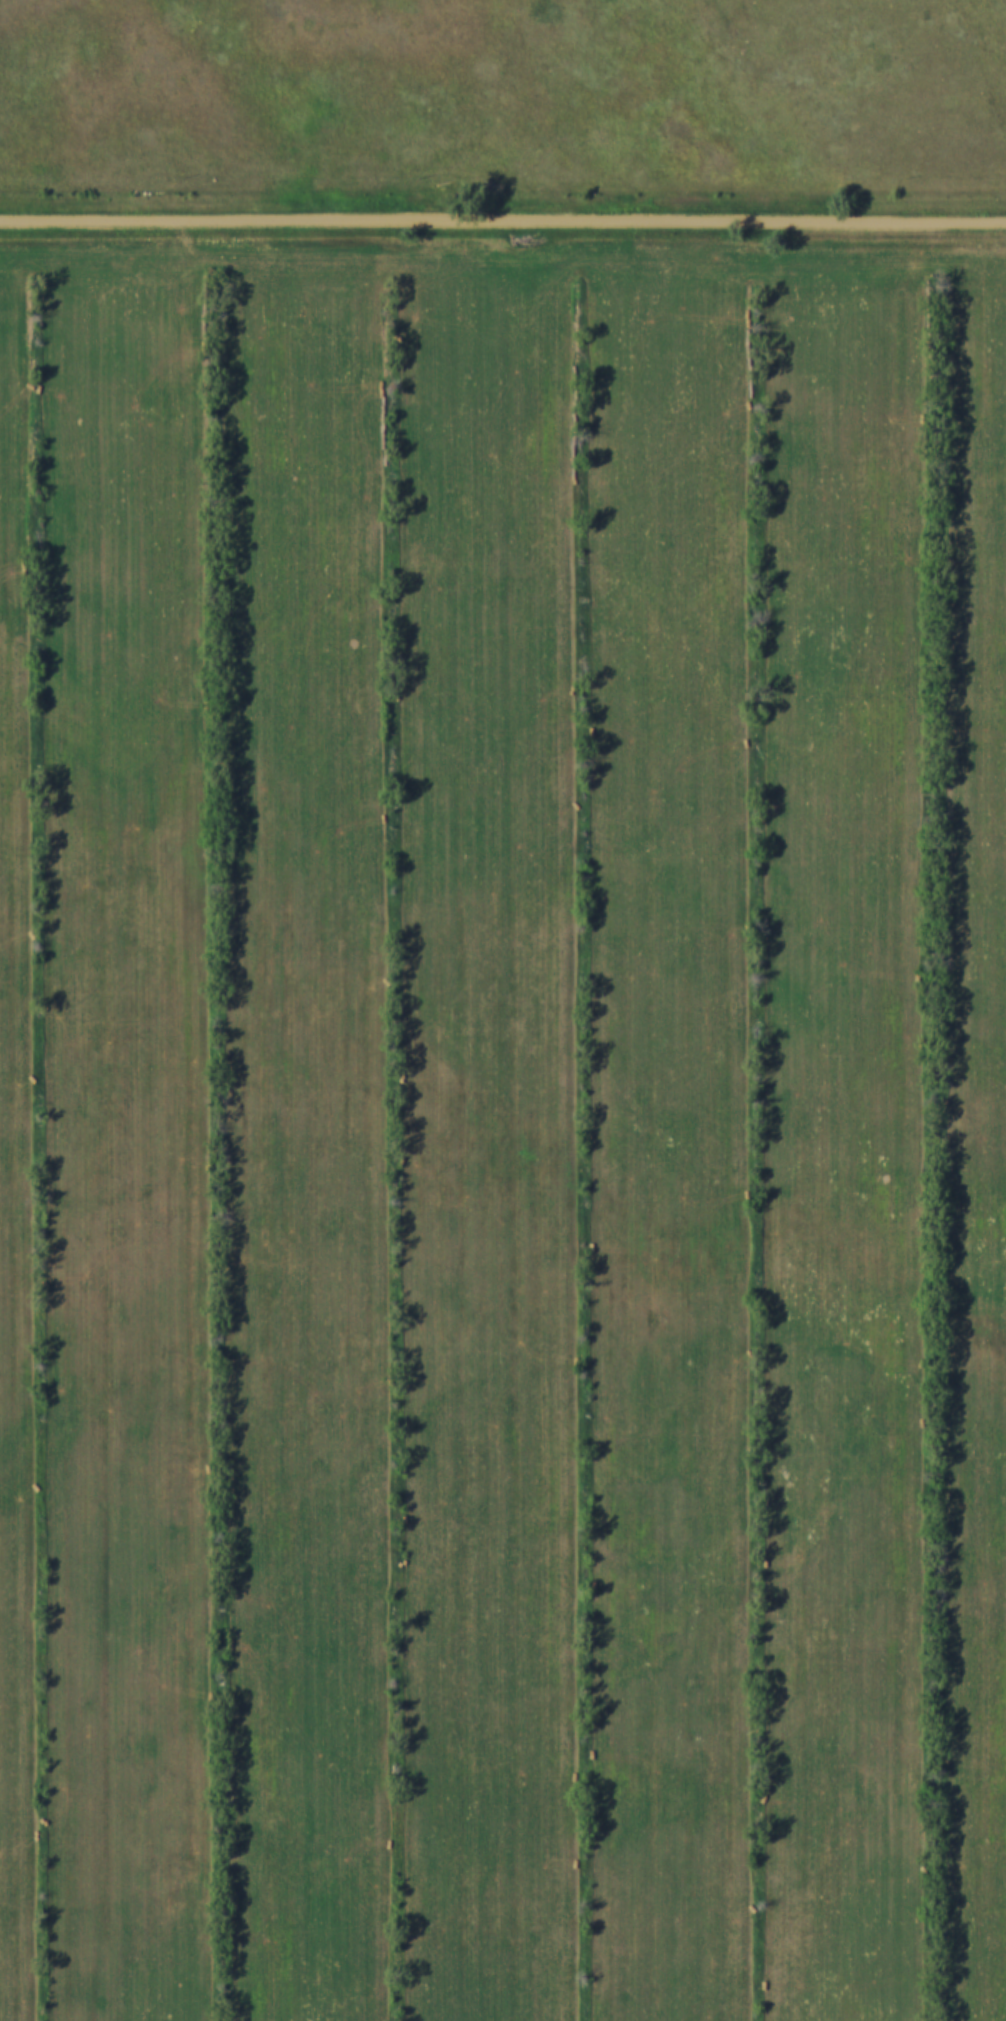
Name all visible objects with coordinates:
road: (503, 216)

